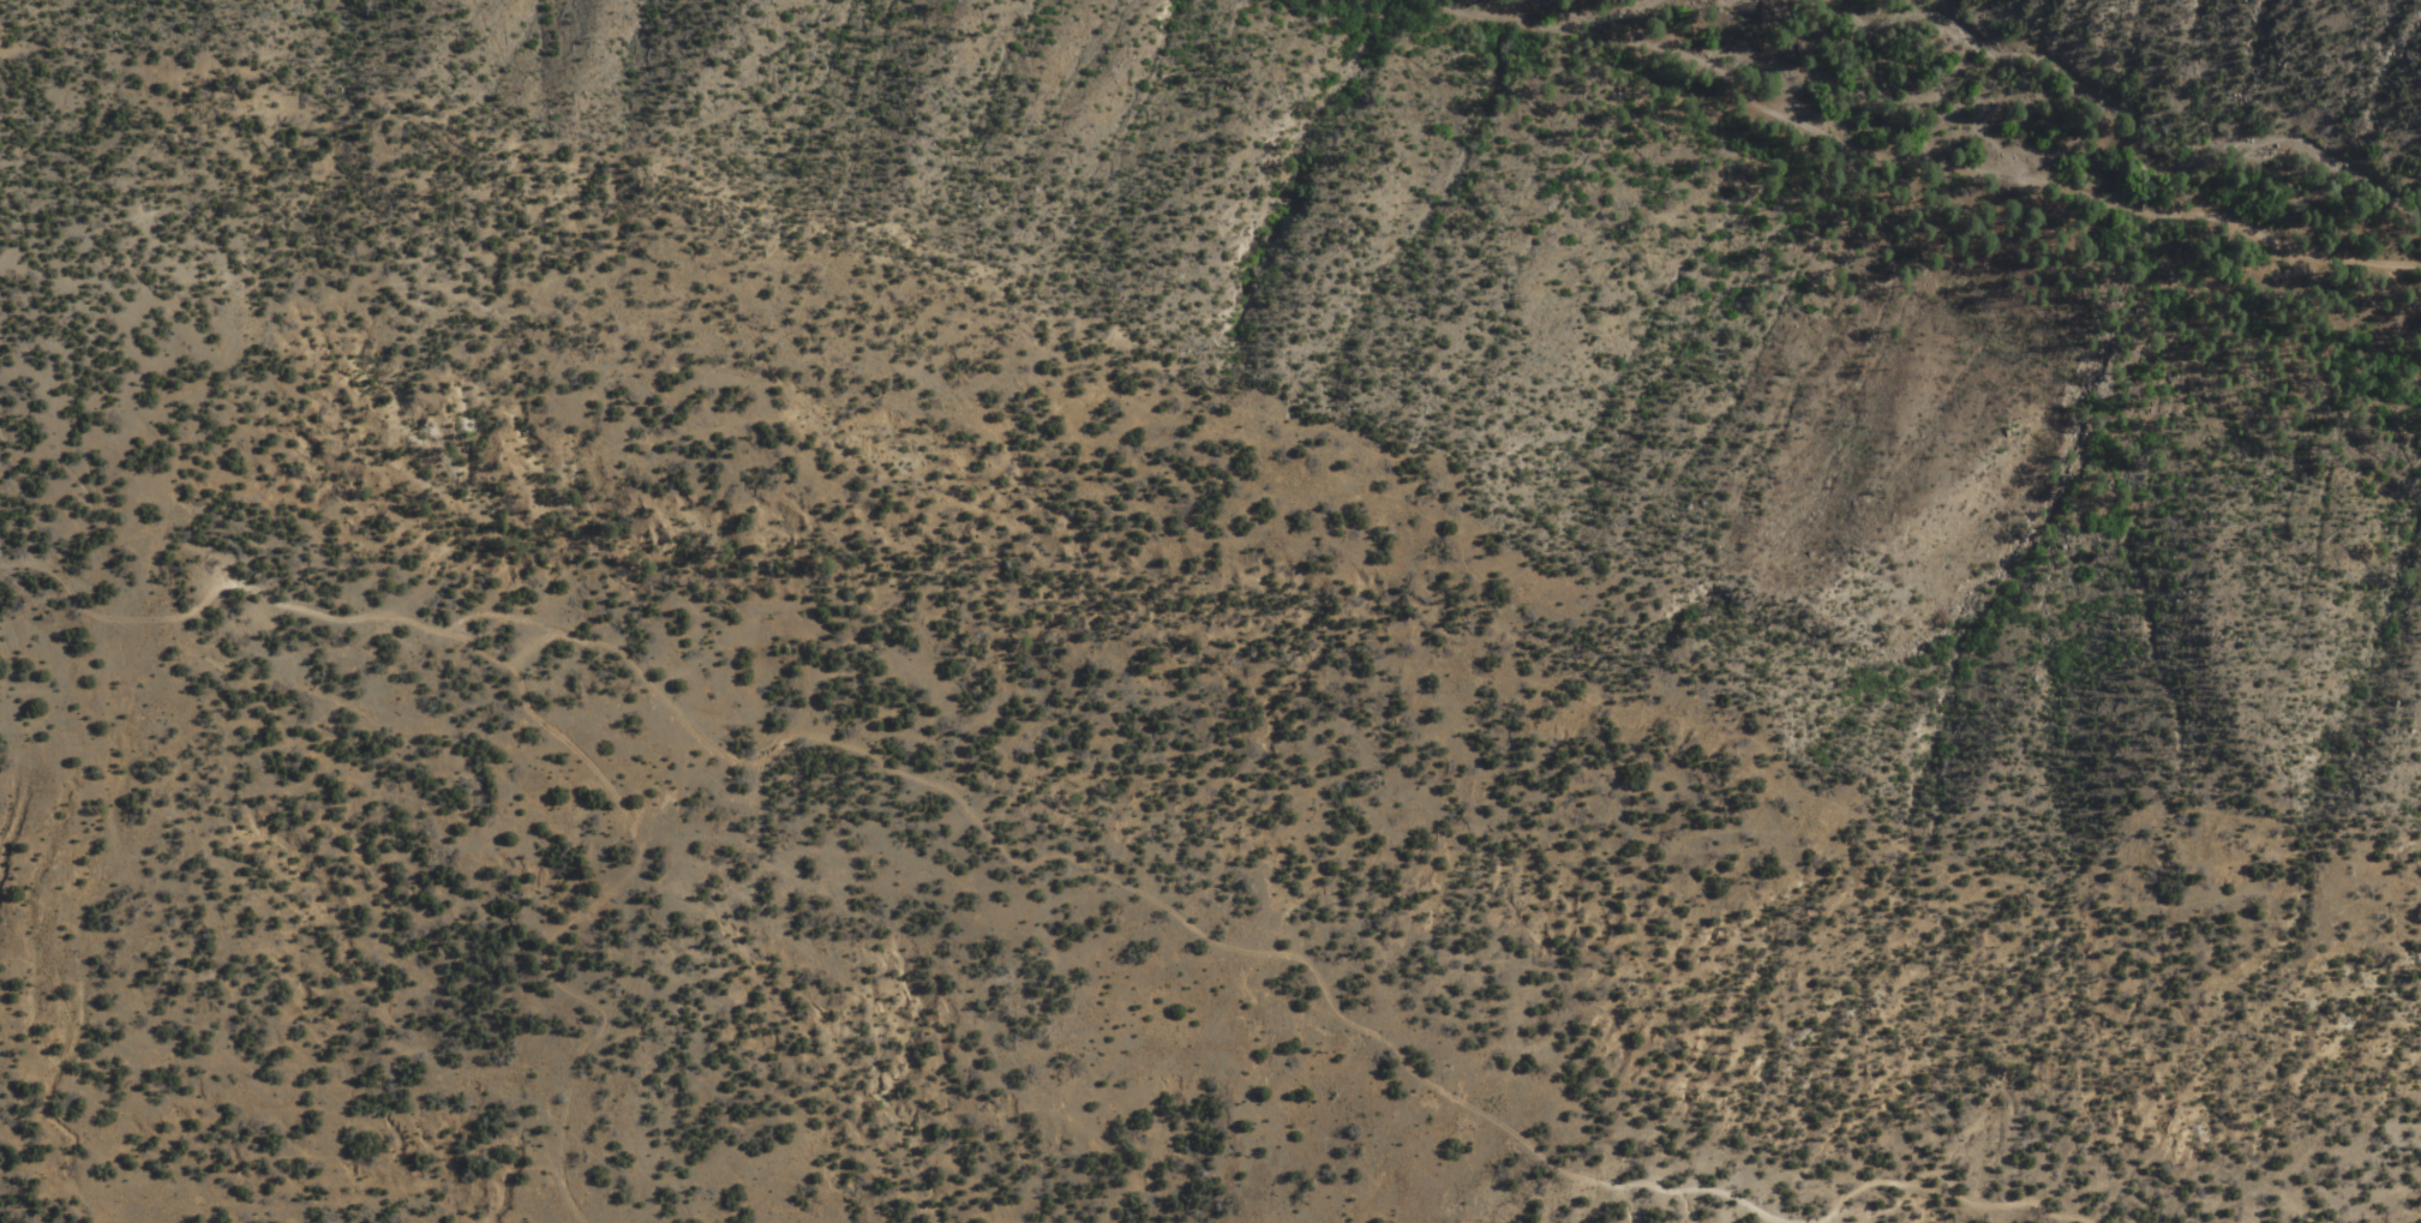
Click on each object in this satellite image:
road: (1922, 158)
road: (1033, 855)
road: (623, 928)
road: (25, 1105)
road: (556, 1217)

